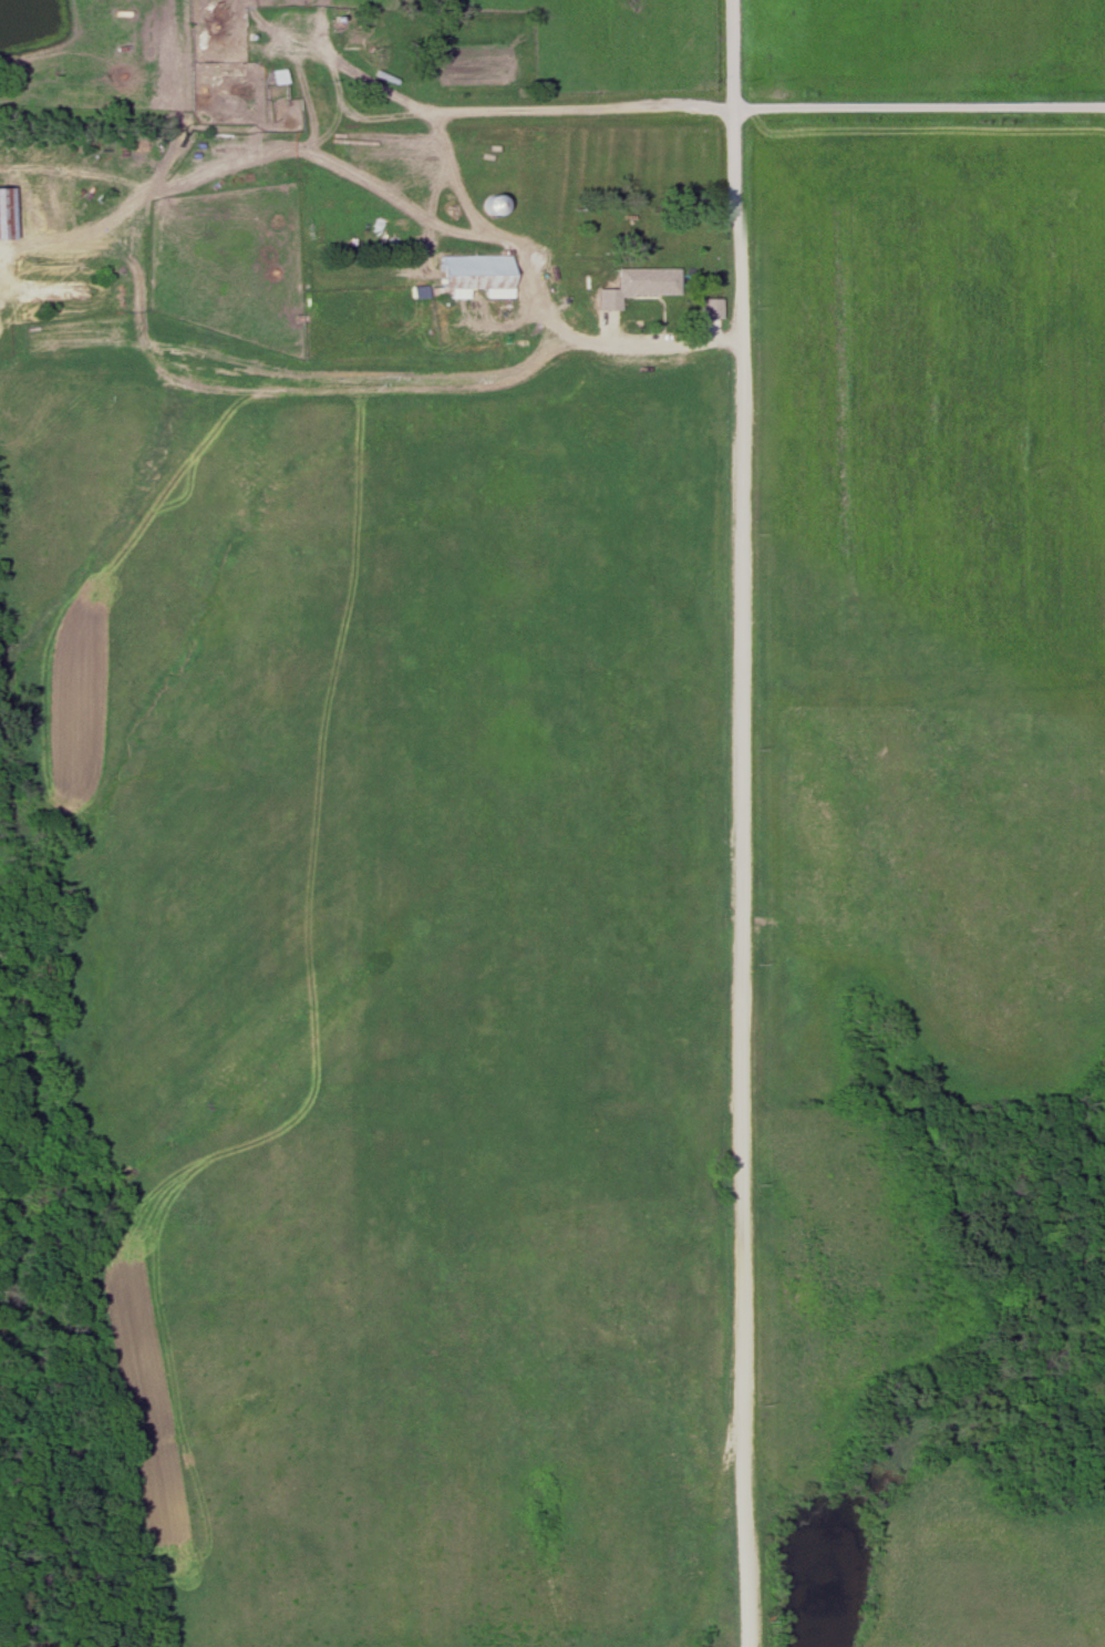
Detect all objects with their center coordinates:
building: (225, 44)
building: (270, 78)
road: (918, 105)
road: (482, 110)
road: (252, 146)
building: (482, 206)
building: (2, 214)
building: (466, 275)
road: (545, 285)
building: (628, 286)
road: (734, 823)

